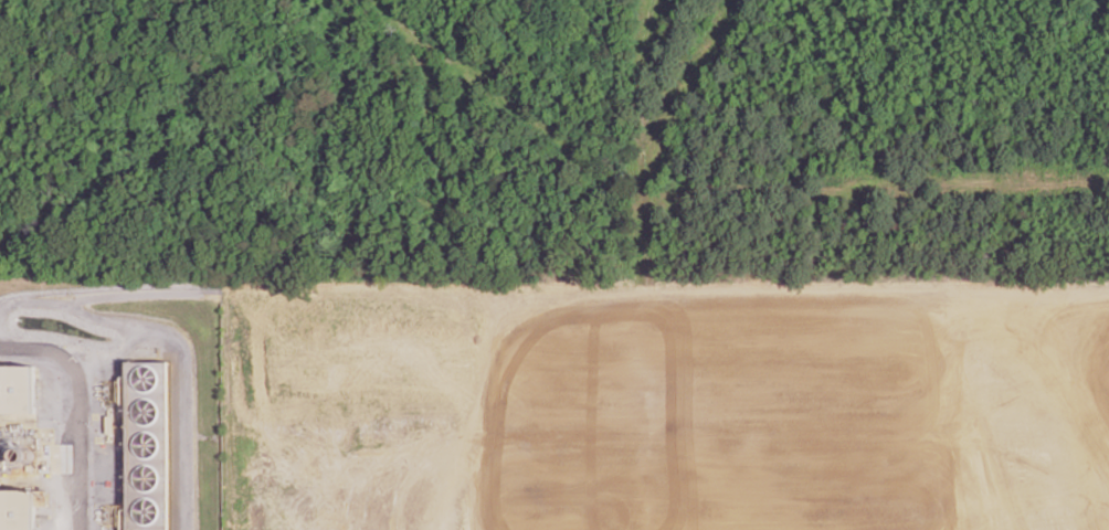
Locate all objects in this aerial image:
road: (616, 307)
building: (17, 389)
road: (78, 407)
power plant: (110, 410)
building: (145, 444)
building: (9, 455)
chimney: (28, 456)
building: (754, 495)

